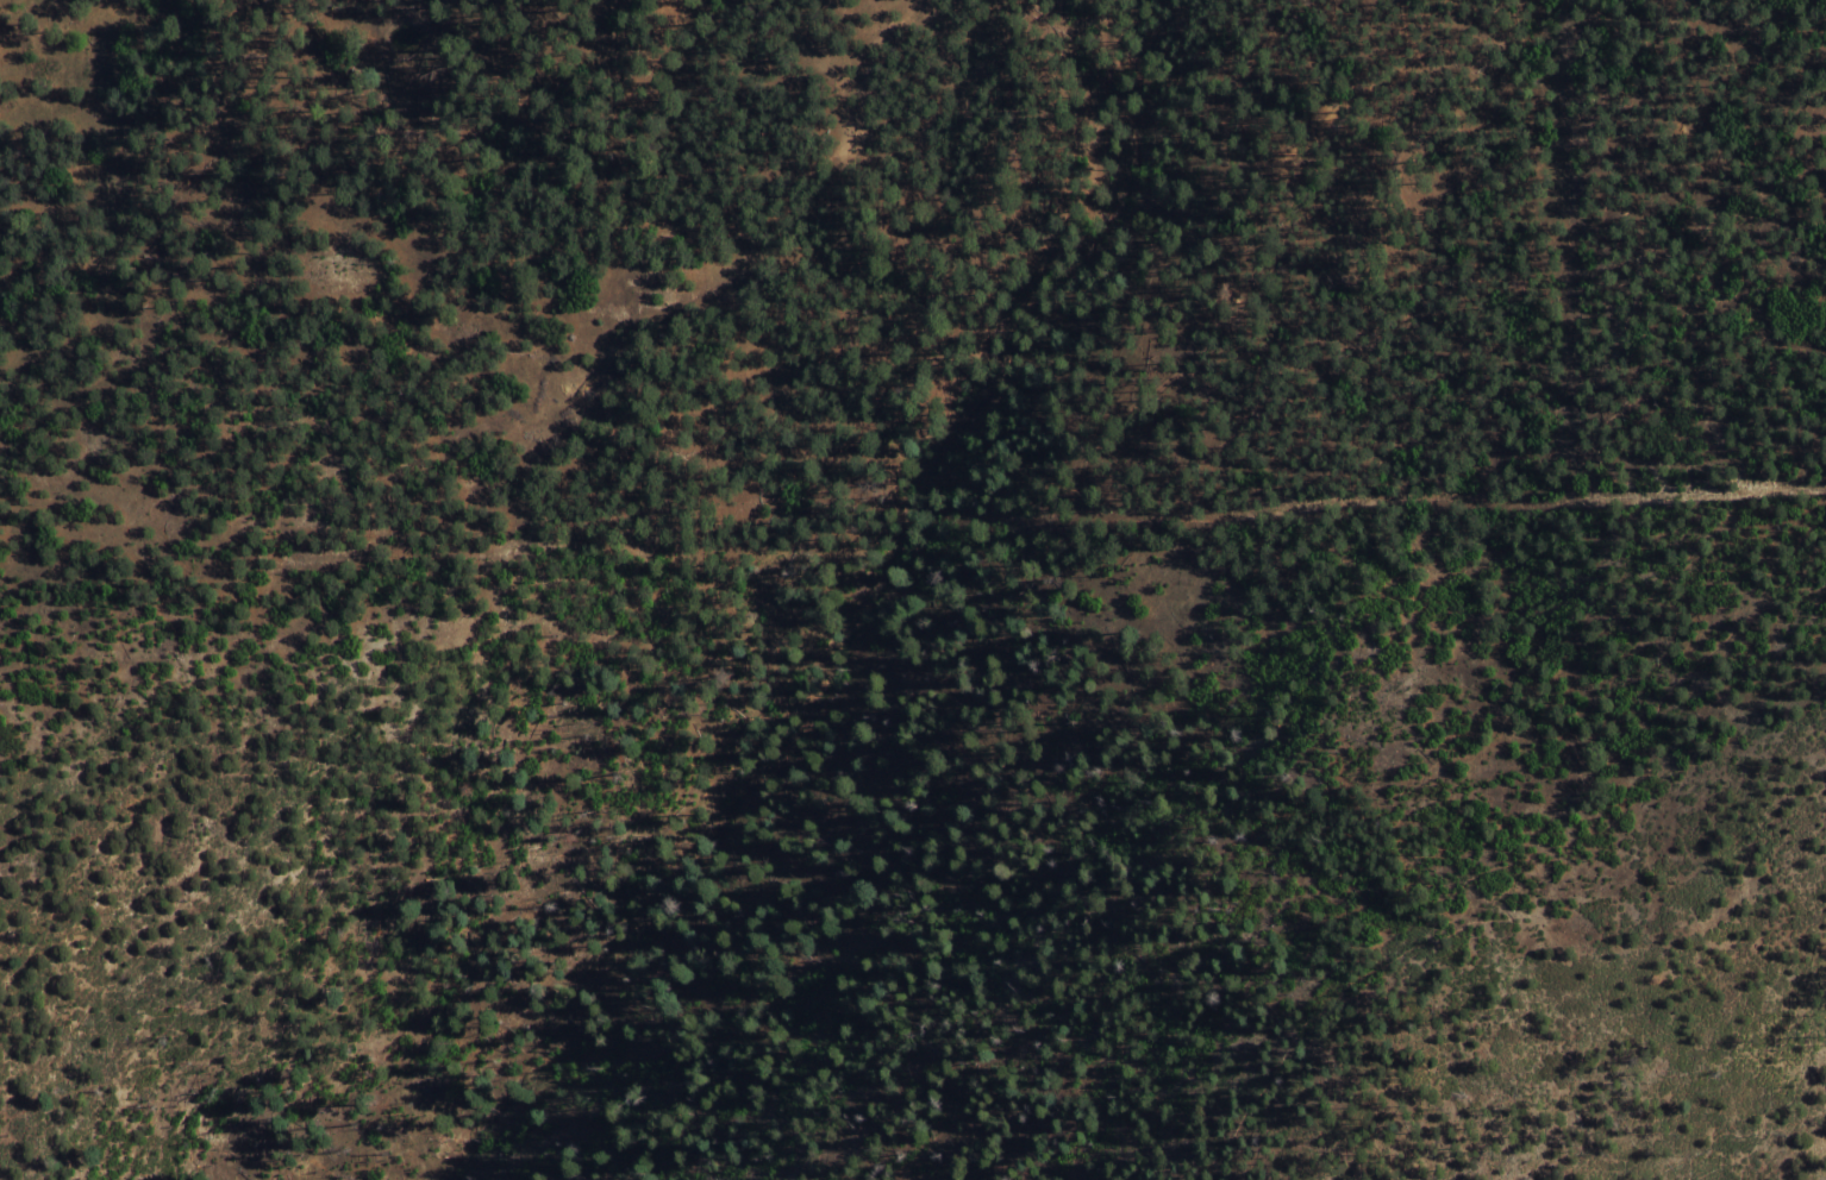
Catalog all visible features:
road: (85, 86)

